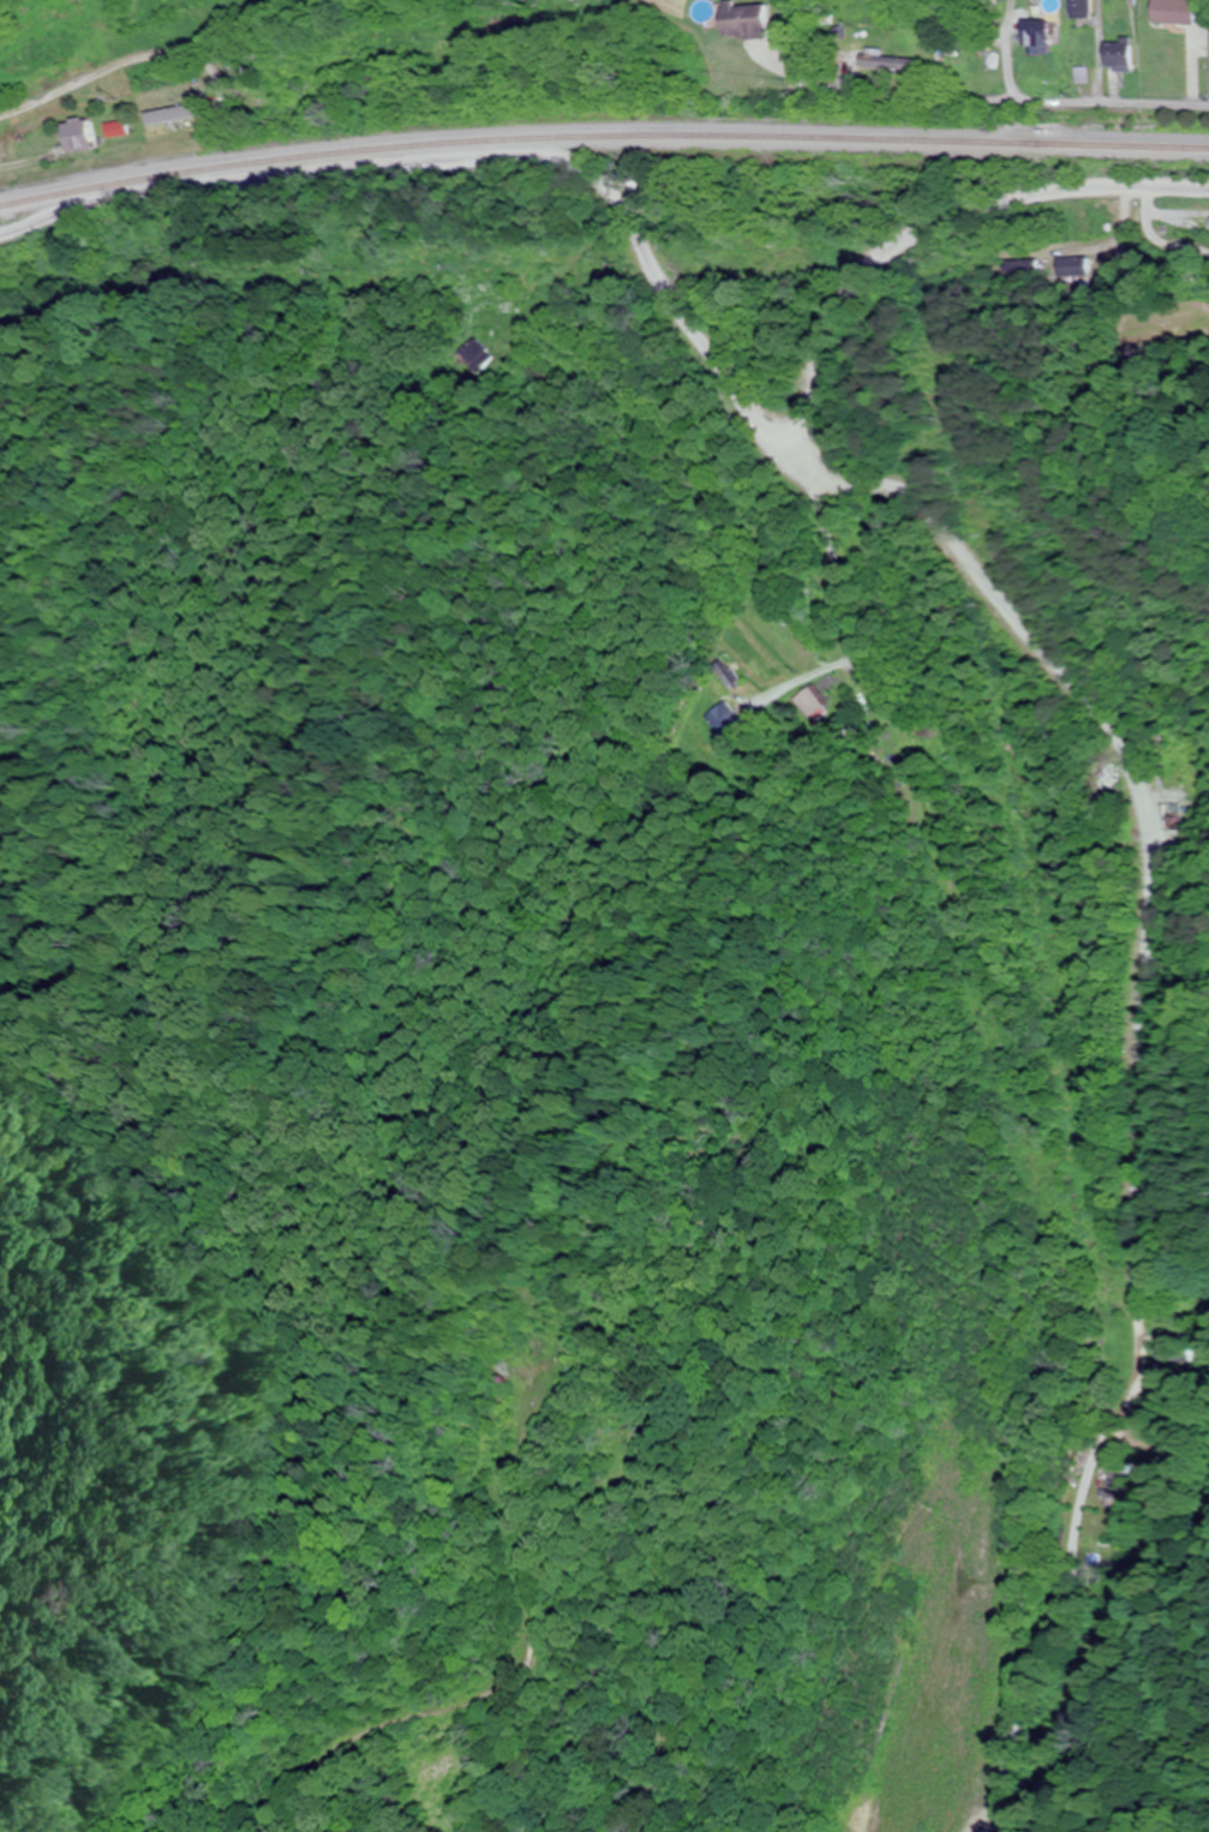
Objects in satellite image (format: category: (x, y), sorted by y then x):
building: (1081, 8)
building: (1177, 12)
building: (746, 20)
building: (1035, 34)
building: (1119, 58)
road: (1019, 59)
building: (291, 91)
road: (10, 114)
road: (1005, 116)
building: (78, 136)
railway: (601, 136)
road: (471, 157)
road: (940, 234)
building: (1072, 268)
building: (479, 353)
building: (819, 704)
building: (730, 719)
road: (1154, 1071)
building: (934, 1623)

